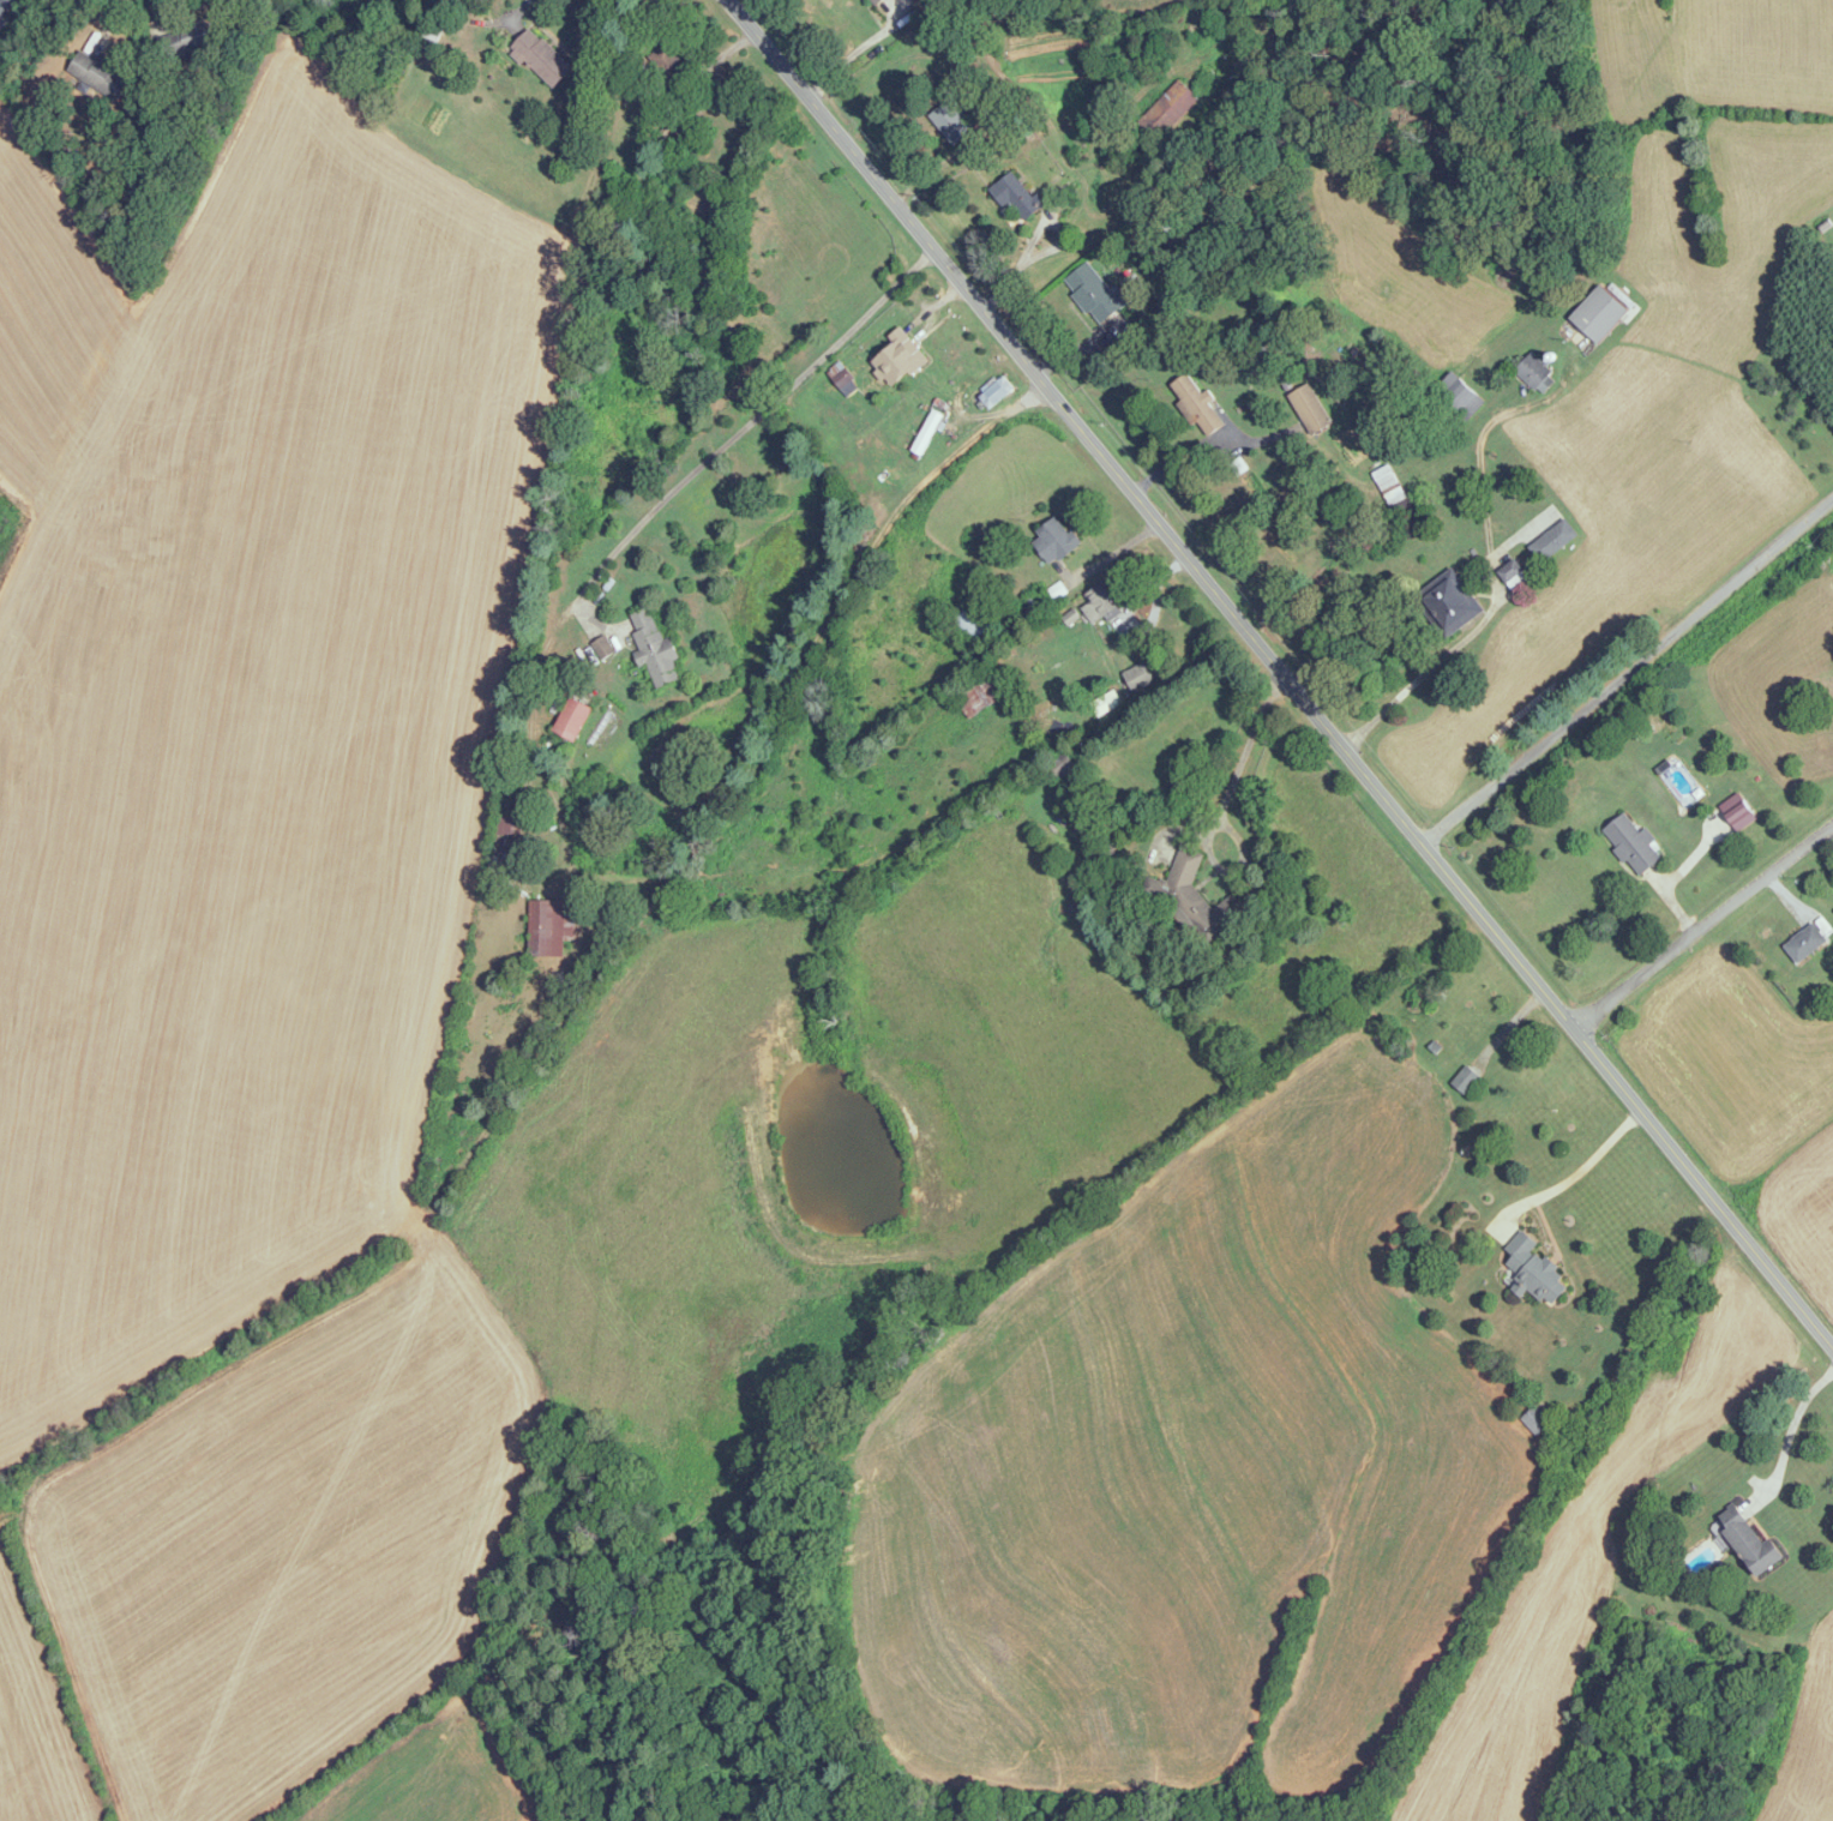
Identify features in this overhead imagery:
building: (877, 2)
road: (521, 6)
building: (5, 7)
building: (186, 40)
building: (541, 59)
building: (668, 64)
building: (98, 76)
building: (1168, 109)
building: (951, 122)
building: (1017, 197)
building: (1095, 294)
building: (1598, 315)
building: (899, 359)
building: (1535, 374)
building: (996, 392)
building: (1464, 401)
building: (1196, 403)
building: (1310, 409)
building: (927, 433)
road: (970, 438)
road: (726, 443)
road: (1480, 471)
building: (1387, 474)
building: (1552, 540)
building: (1054, 541)
building: (1515, 577)
building: (1100, 601)
building: (1449, 602)
building: (974, 624)
building: (654, 648)
road: (1625, 668)
road: (1276, 669)
road: (1423, 675)
building: (1140, 677)
building: (981, 695)
building: (571, 719)
building: (1060, 765)
road: (1221, 806)
building: (1737, 811)
building: (1634, 845)
building: (1195, 897)
road: (1703, 920)
building: (551, 926)
building: (1466, 1078)
road: (1575, 1176)
building: (1534, 1269)
building: (1535, 1420)
road: (1789, 1434)
building: (1748, 1541)

